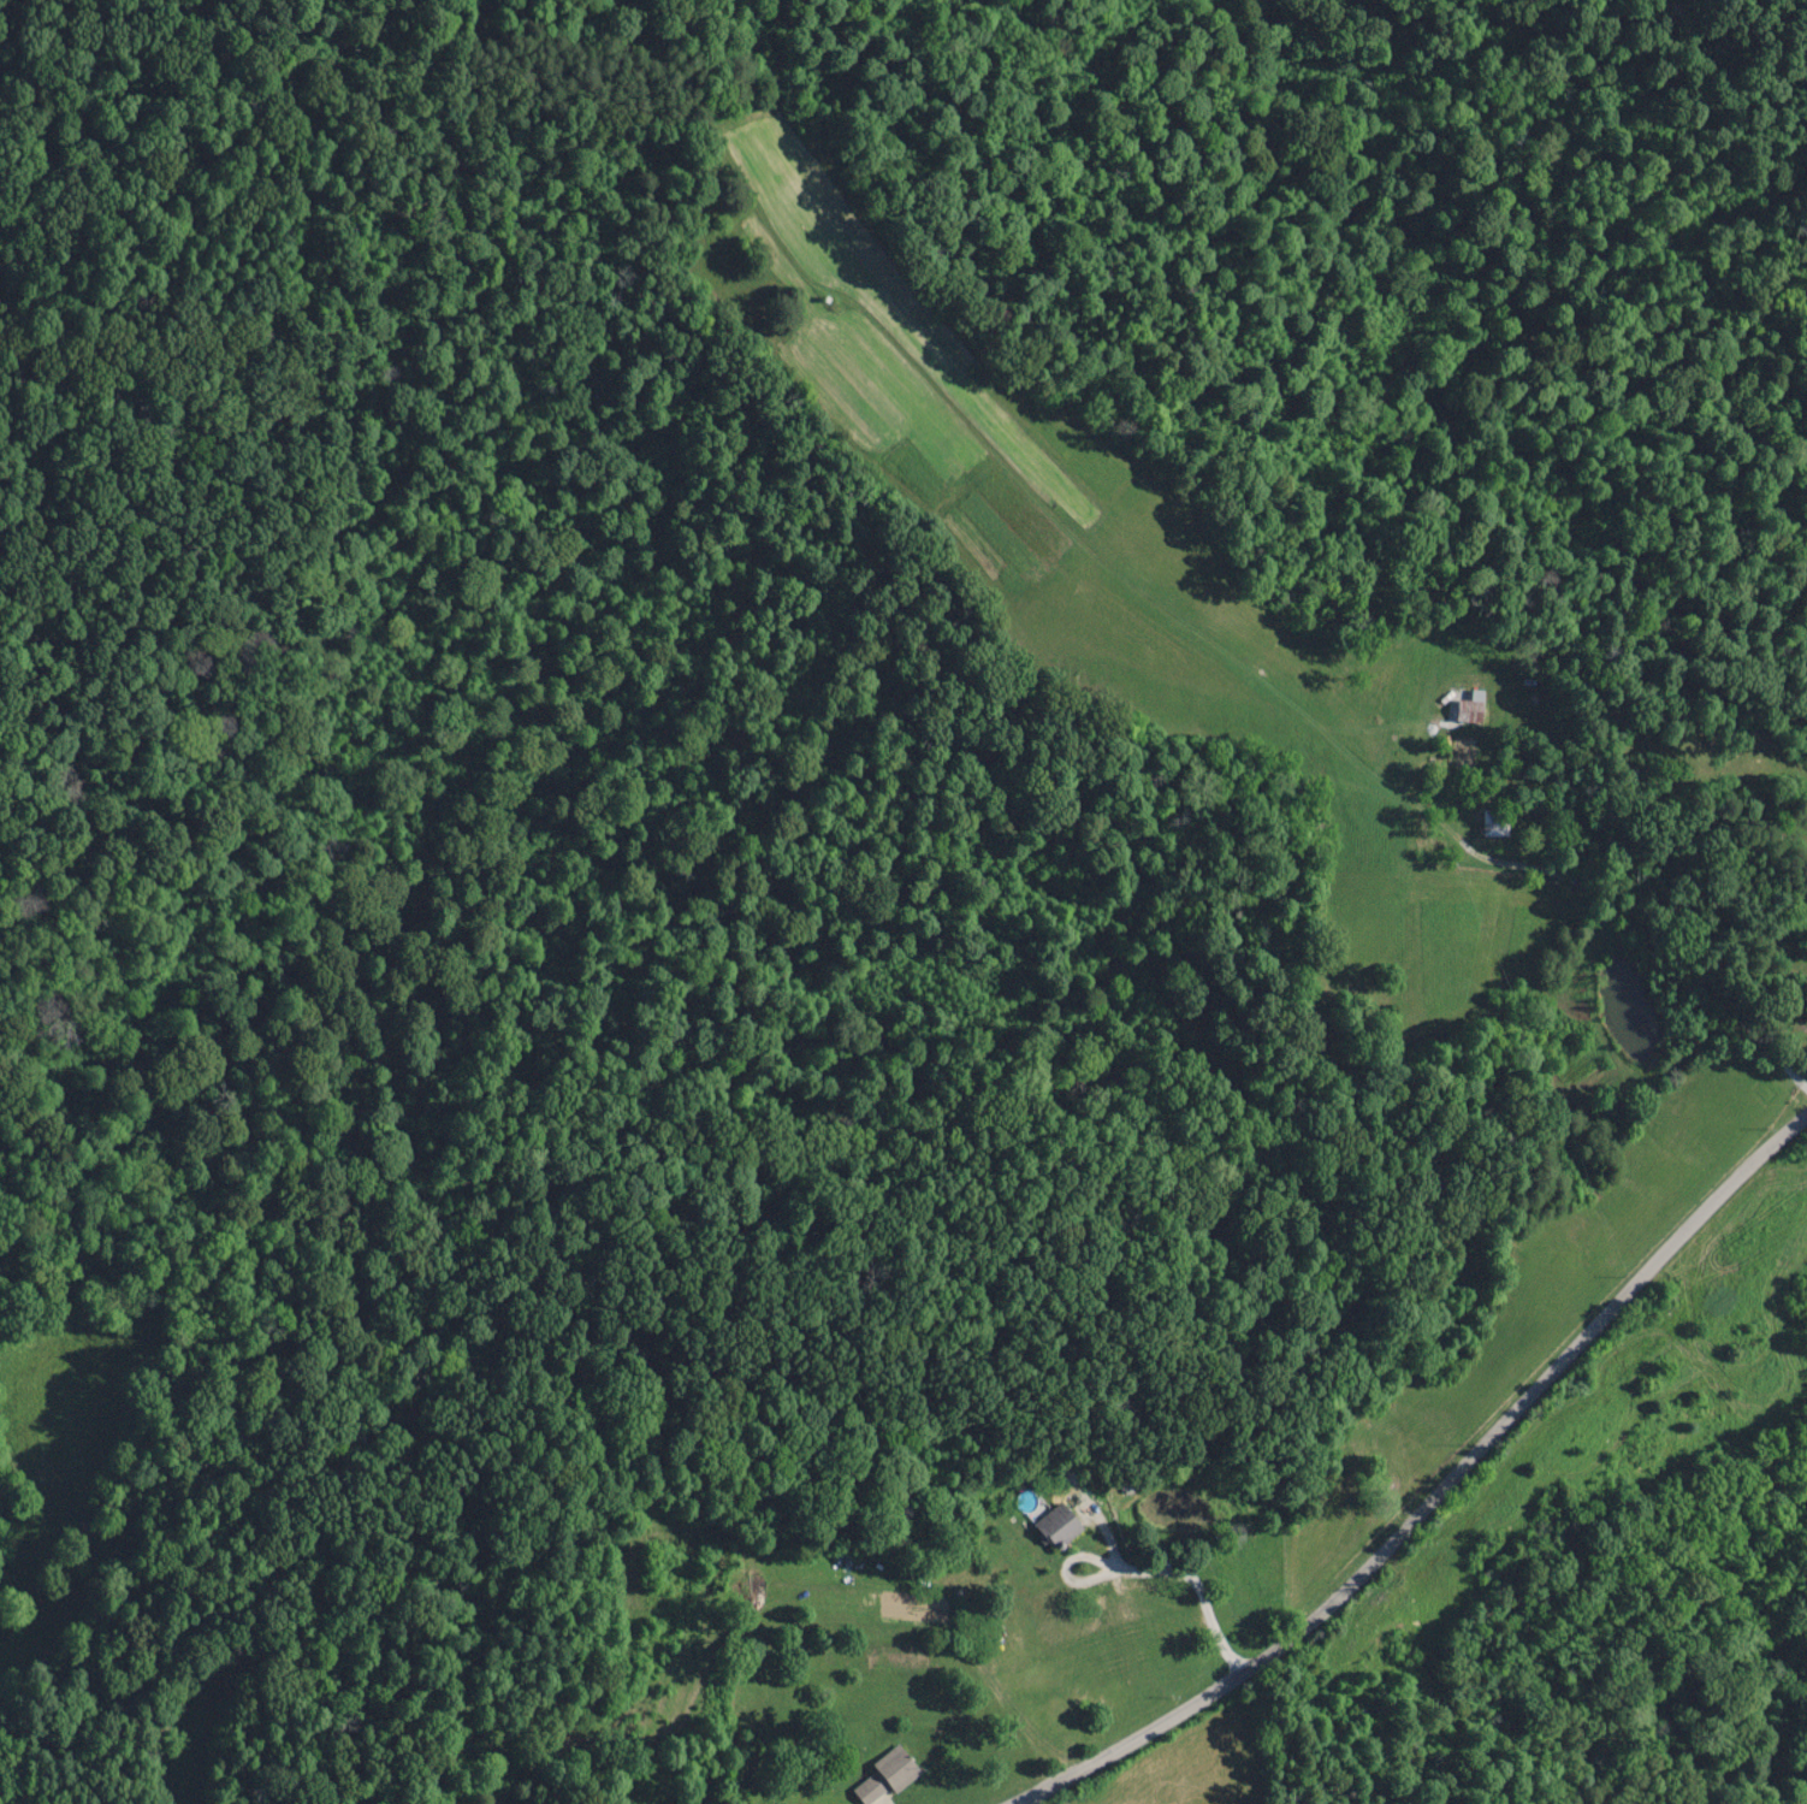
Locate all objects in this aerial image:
building: (1467, 712)
building: (1492, 823)
road: (1436, 1494)
building: (1055, 1528)
building: (884, 1776)

